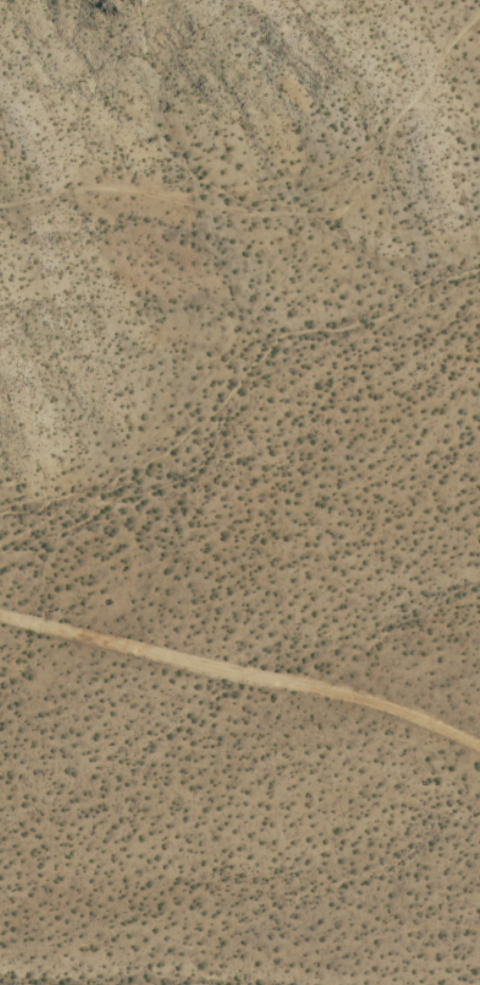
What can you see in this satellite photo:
road: (241, 669)

